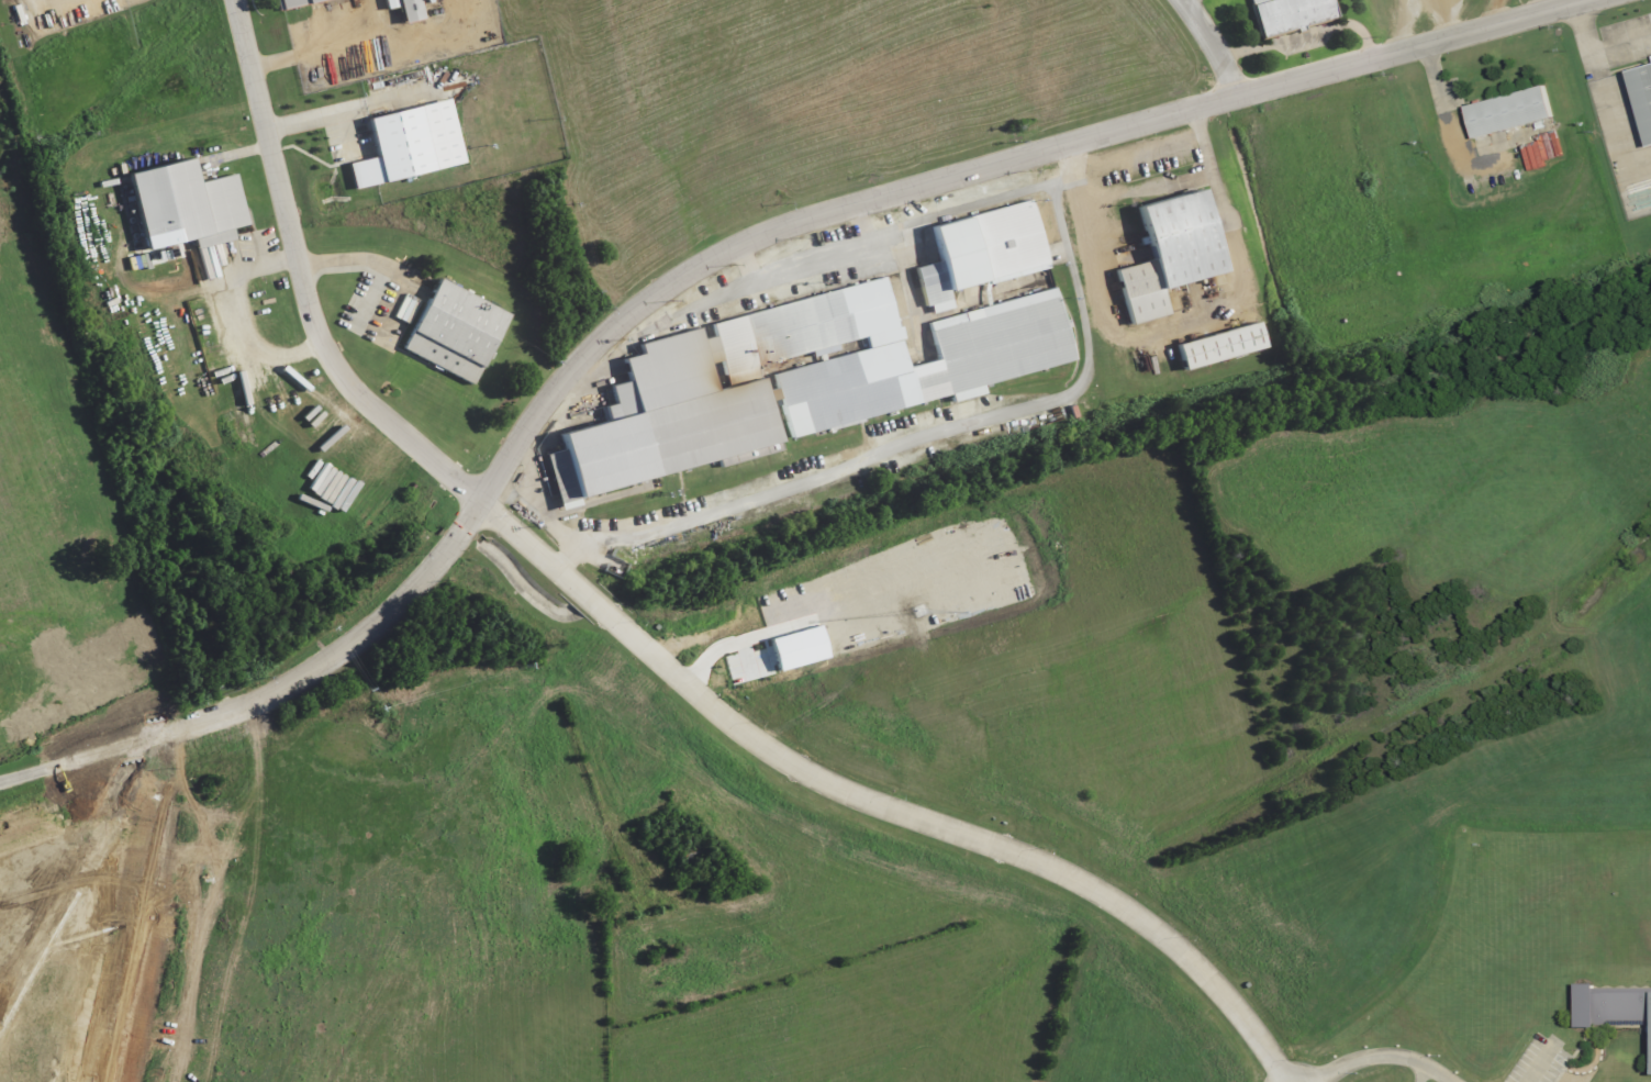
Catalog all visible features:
building: (301, 2)
building: (410, 9)
building: (1294, 14)
road: (1423, 22)
road: (1214, 46)
building: (1641, 98)
building: (1503, 112)
building: (414, 144)
building: (190, 205)
road: (832, 209)
building: (985, 252)
building: (1164, 253)
road: (362, 263)
building: (450, 331)
building: (1217, 345)
building: (799, 380)
road: (892, 469)
road: (646, 643)
road: (152, 736)
road: (29, 771)
building: (1613, 1006)
road: (1386, 1050)
road: (1425, 1072)

